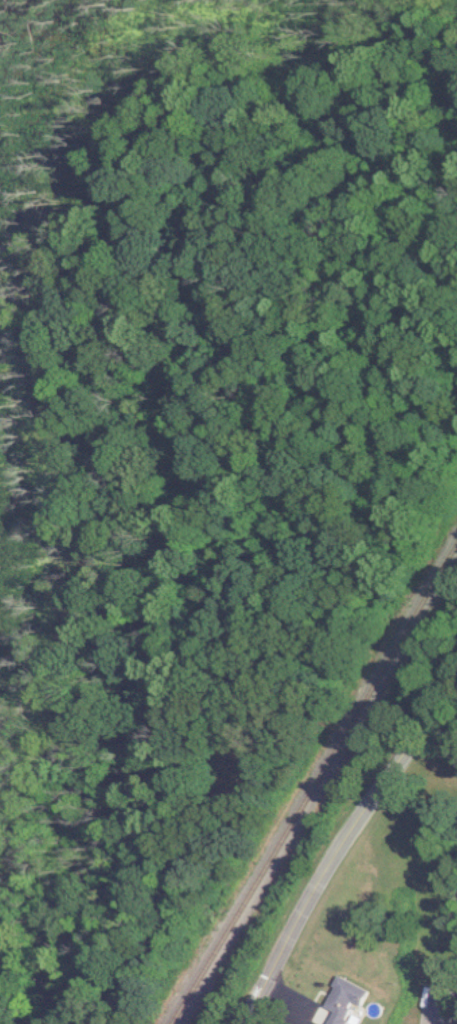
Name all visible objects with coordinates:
railway: (318, 785)
road: (341, 850)
building: (339, 1002)

